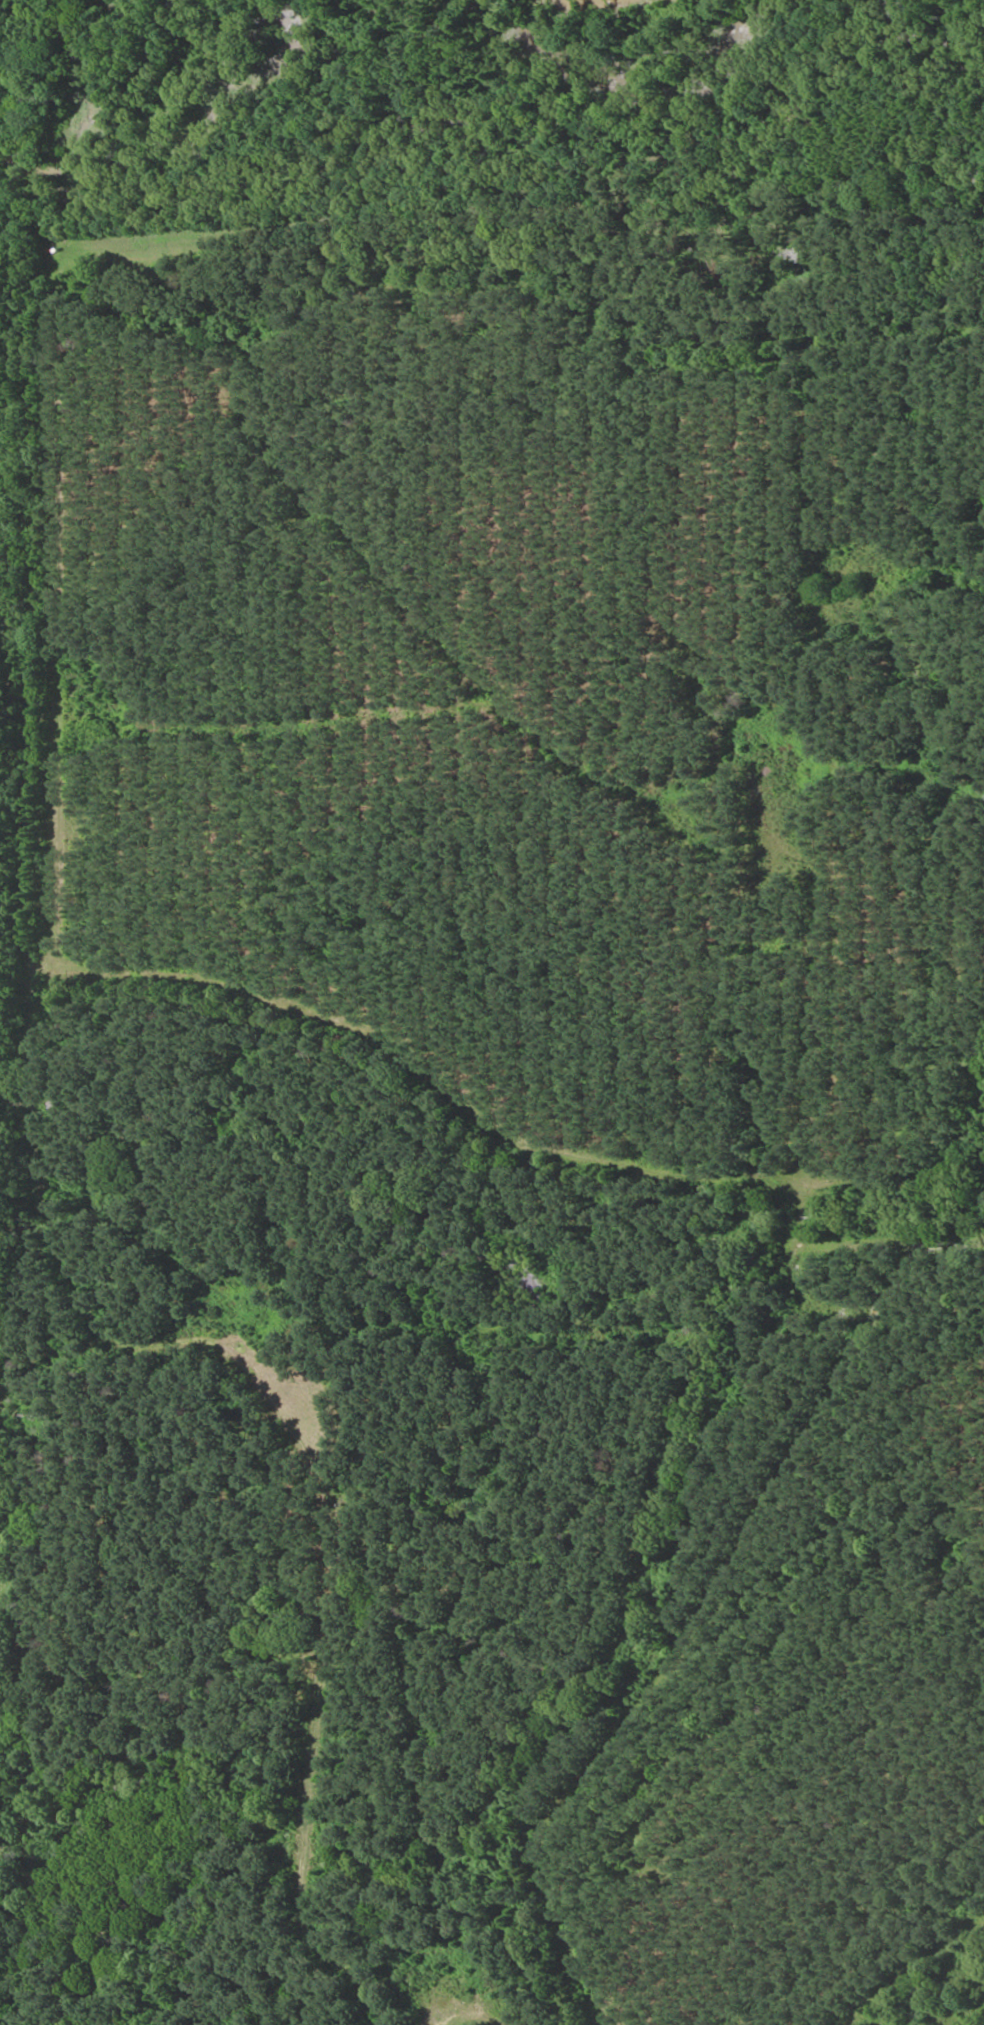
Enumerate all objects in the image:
road: (414, 2014)

